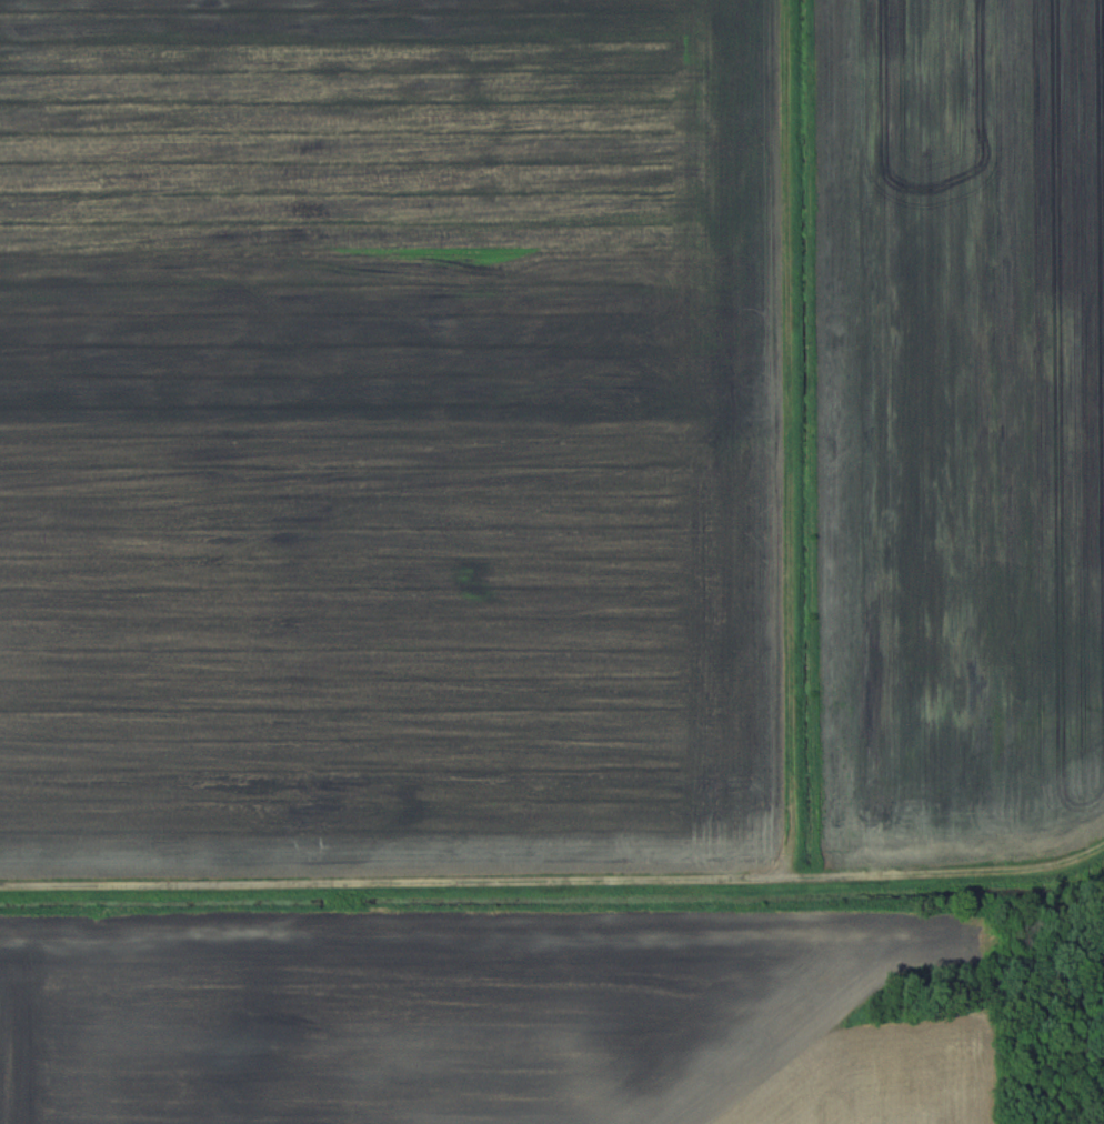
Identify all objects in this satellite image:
road: (554, 876)

